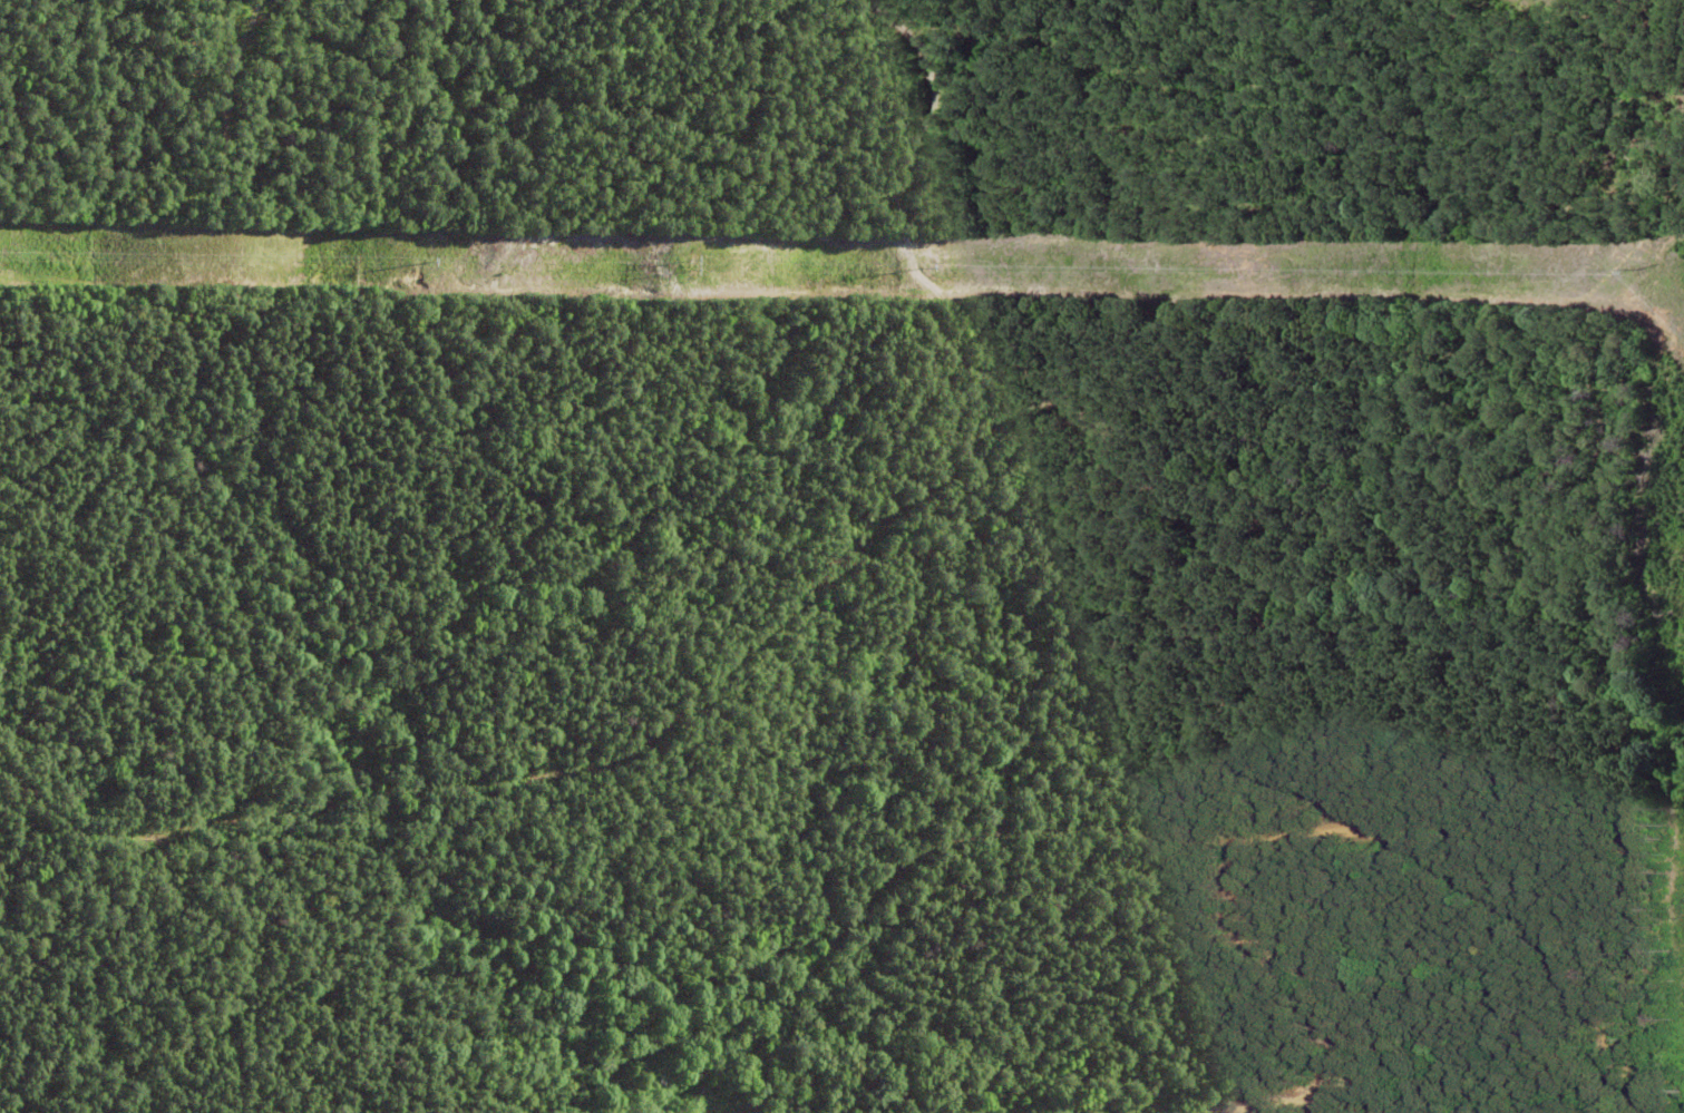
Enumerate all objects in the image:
road: (690, 758)
road: (1161, 850)

